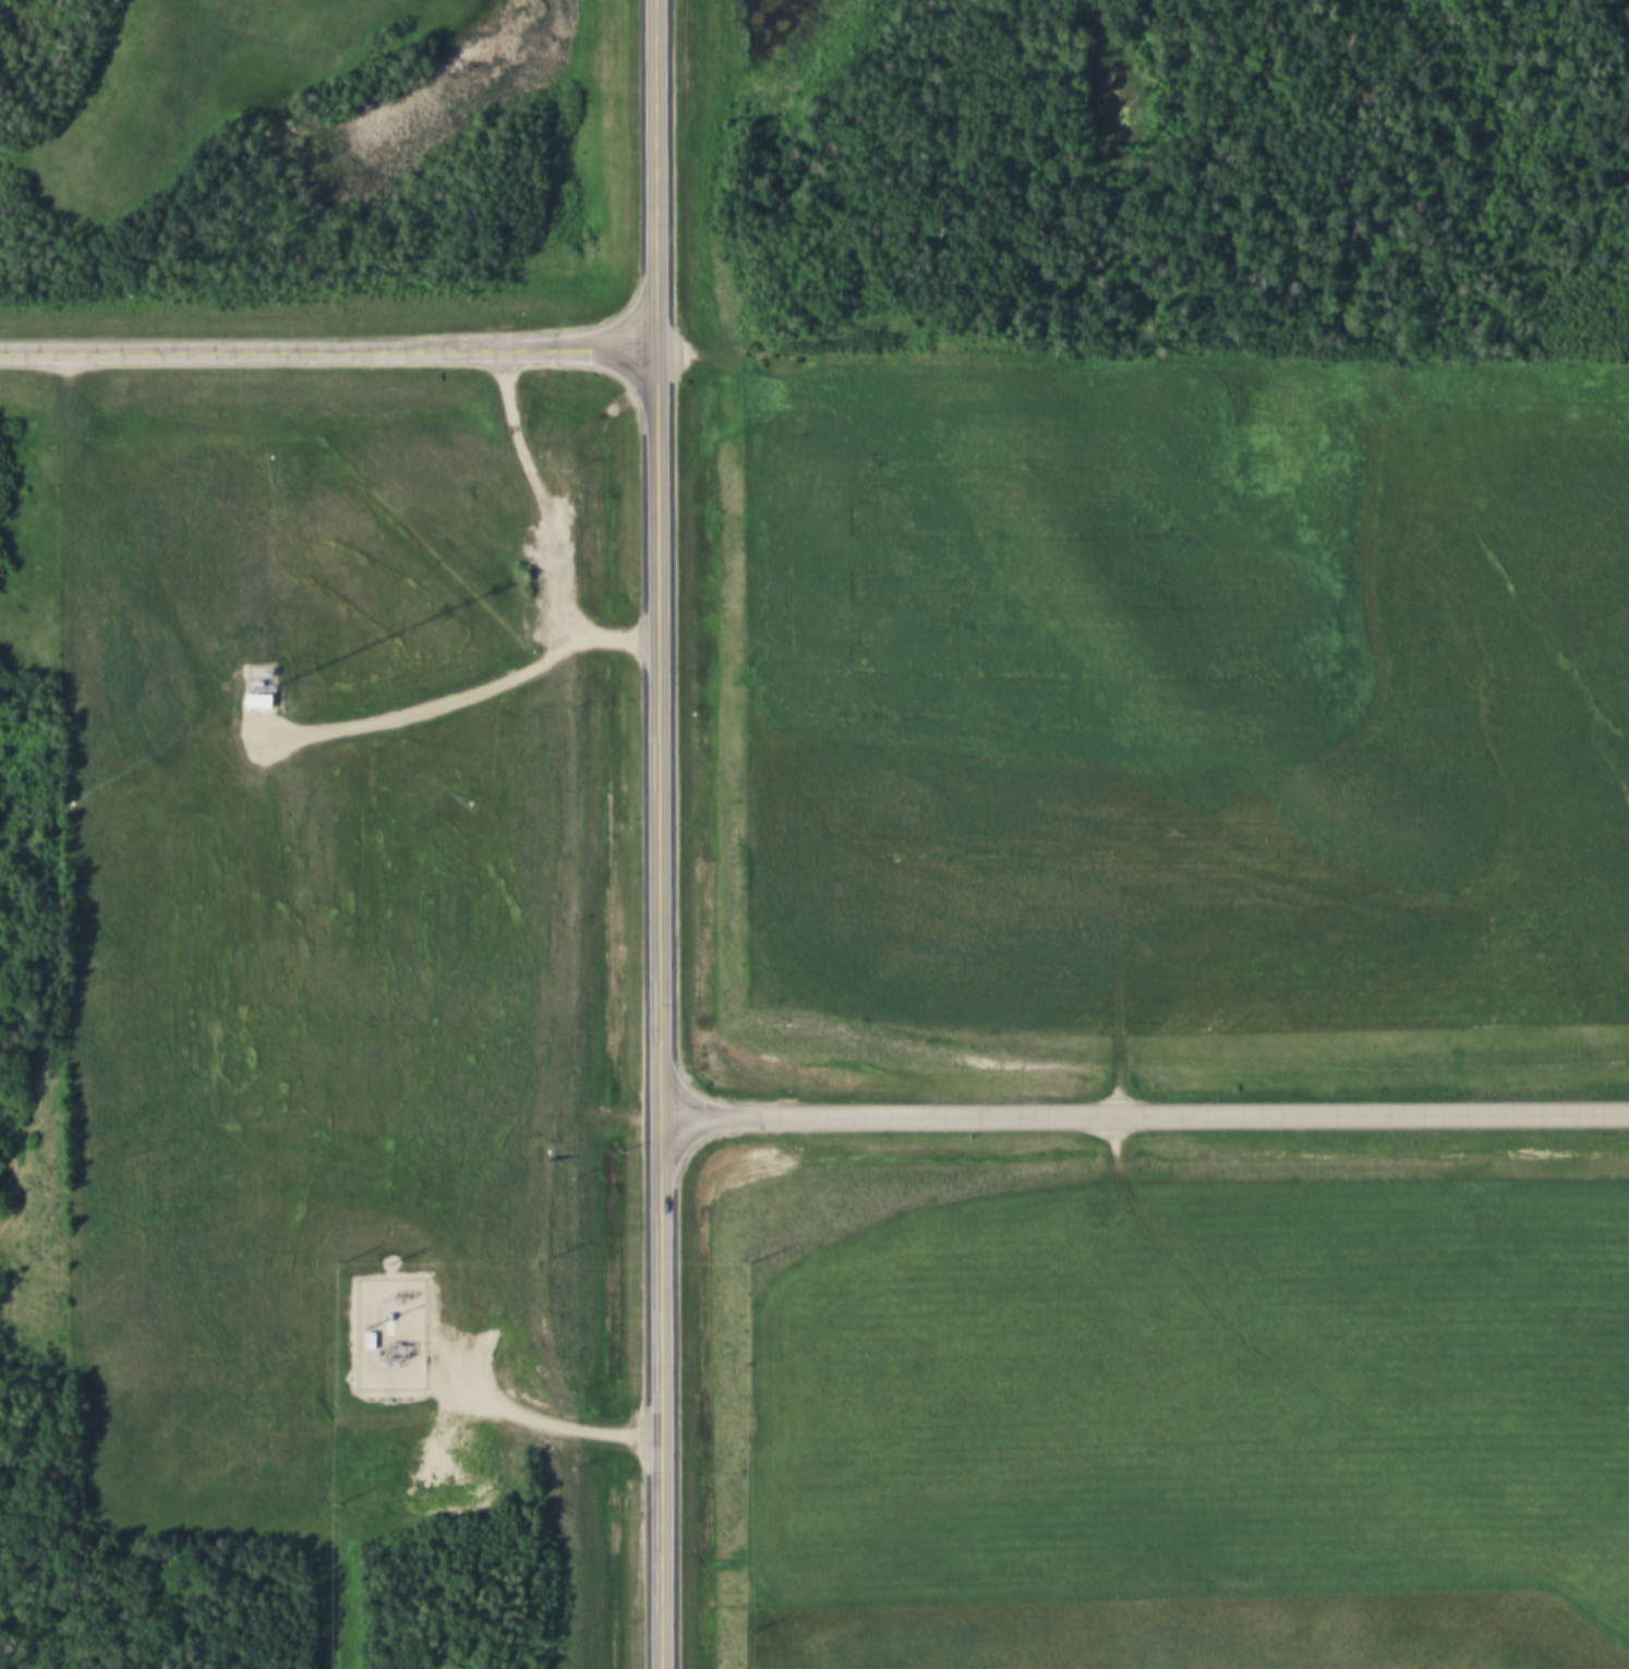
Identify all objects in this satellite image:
road: (327, 356)
road: (546, 528)
building: (262, 700)
road: (657, 834)
road: (1144, 1118)
power substation: (389, 1333)
road: (540, 1424)

